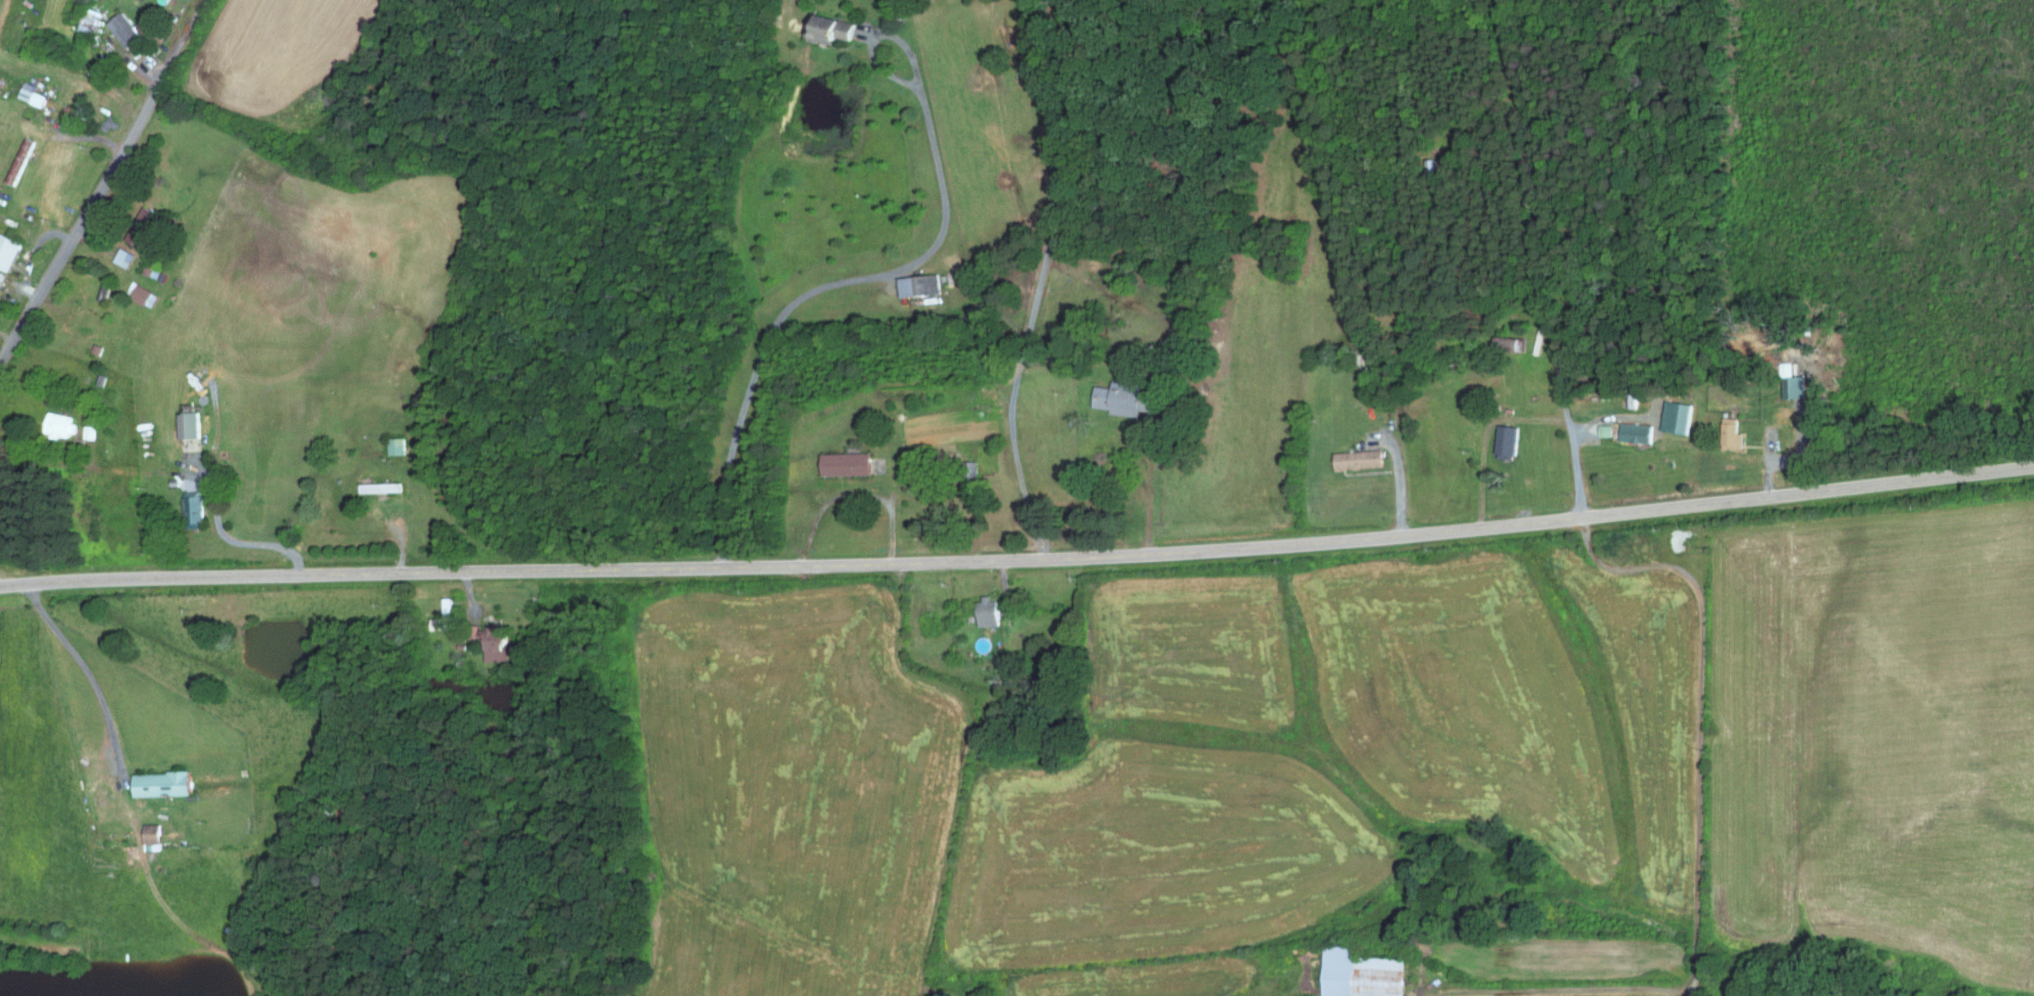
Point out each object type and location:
building: (87, 22)
building: (121, 29)
building: (825, 29)
road: (183, 38)
building: (35, 94)
road: (83, 219)
building: (147, 238)
road: (30, 251)
building: (9, 253)
building: (126, 256)
road: (1541, 258)
building: (154, 270)
road: (889, 272)
road: (1041, 281)
building: (916, 284)
building: (146, 294)
building: (1510, 343)
building: (1791, 386)
building: (1116, 397)
building: (1675, 416)
building: (62, 423)
building: (187, 423)
building: (1603, 430)
building: (1634, 432)
building: (1729, 433)
road: (1485, 436)
building: (1505, 439)
building: (393, 445)
building: (1355, 458)
building: (842, 463)
road: (1399, 474)
building: (377, 487)
road: (851, 491)
building: (191, 510)
road: (233, 539)
road: (1019, 558)
building: (984, 611)
building: (442, 617)
building: (471, 630)
building: (492, 644)
road: (87, 670)
road: (1701, 714)
building: (157, 783)
building: (149, 836)
building: (1357, 973)
road: (1565, 987)
road: (927, 993)

